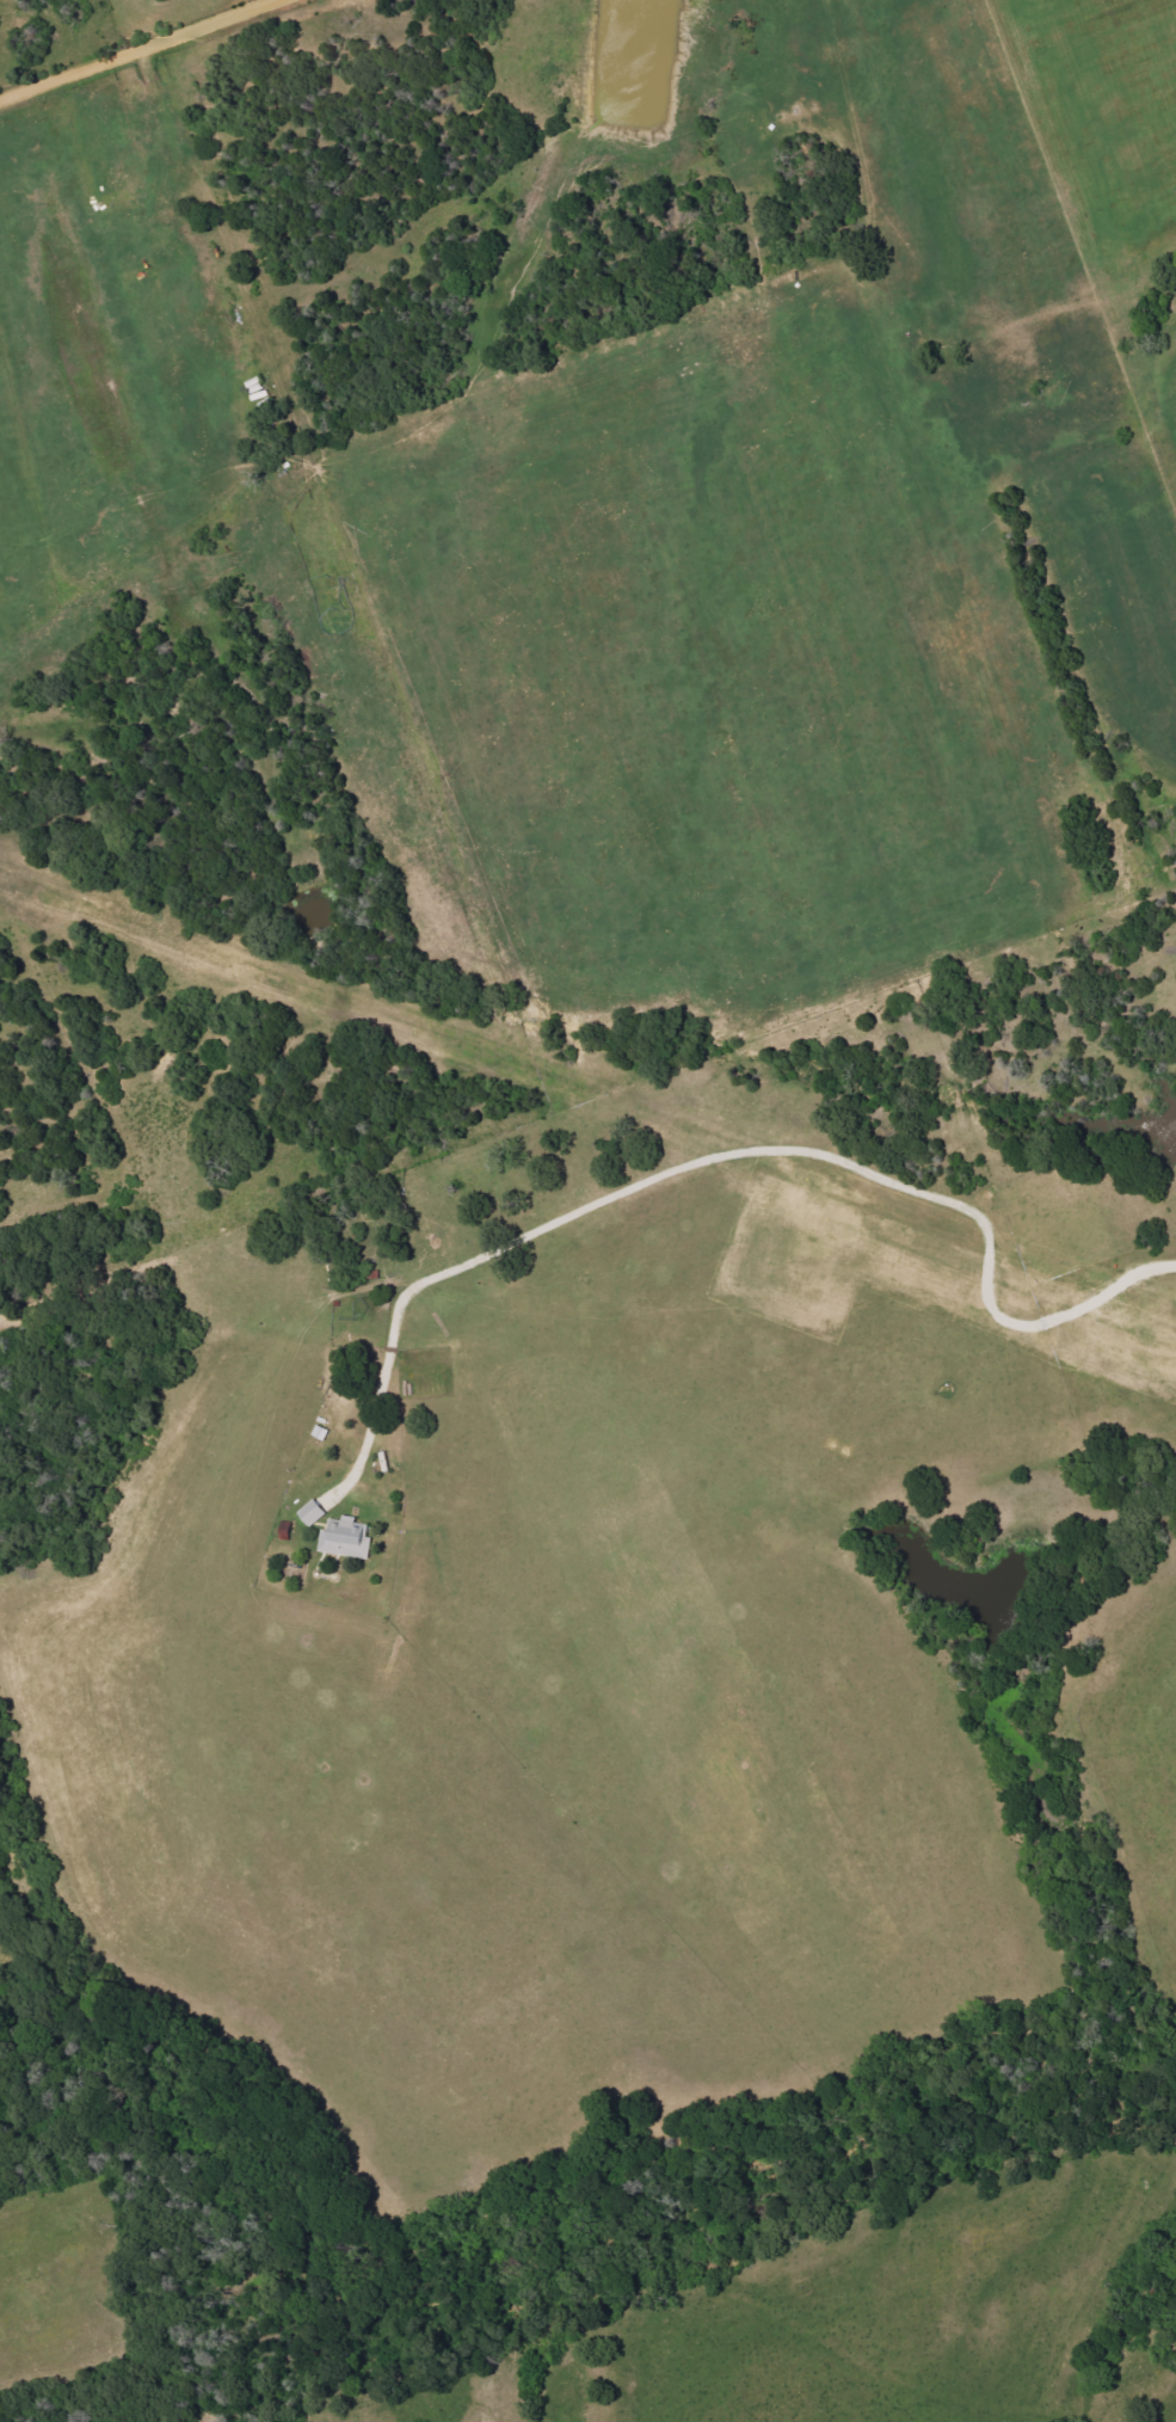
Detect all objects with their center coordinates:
road: (135, 50)
road: (691, 1164)
building: (314, 1513)
building: (347, 1537)

